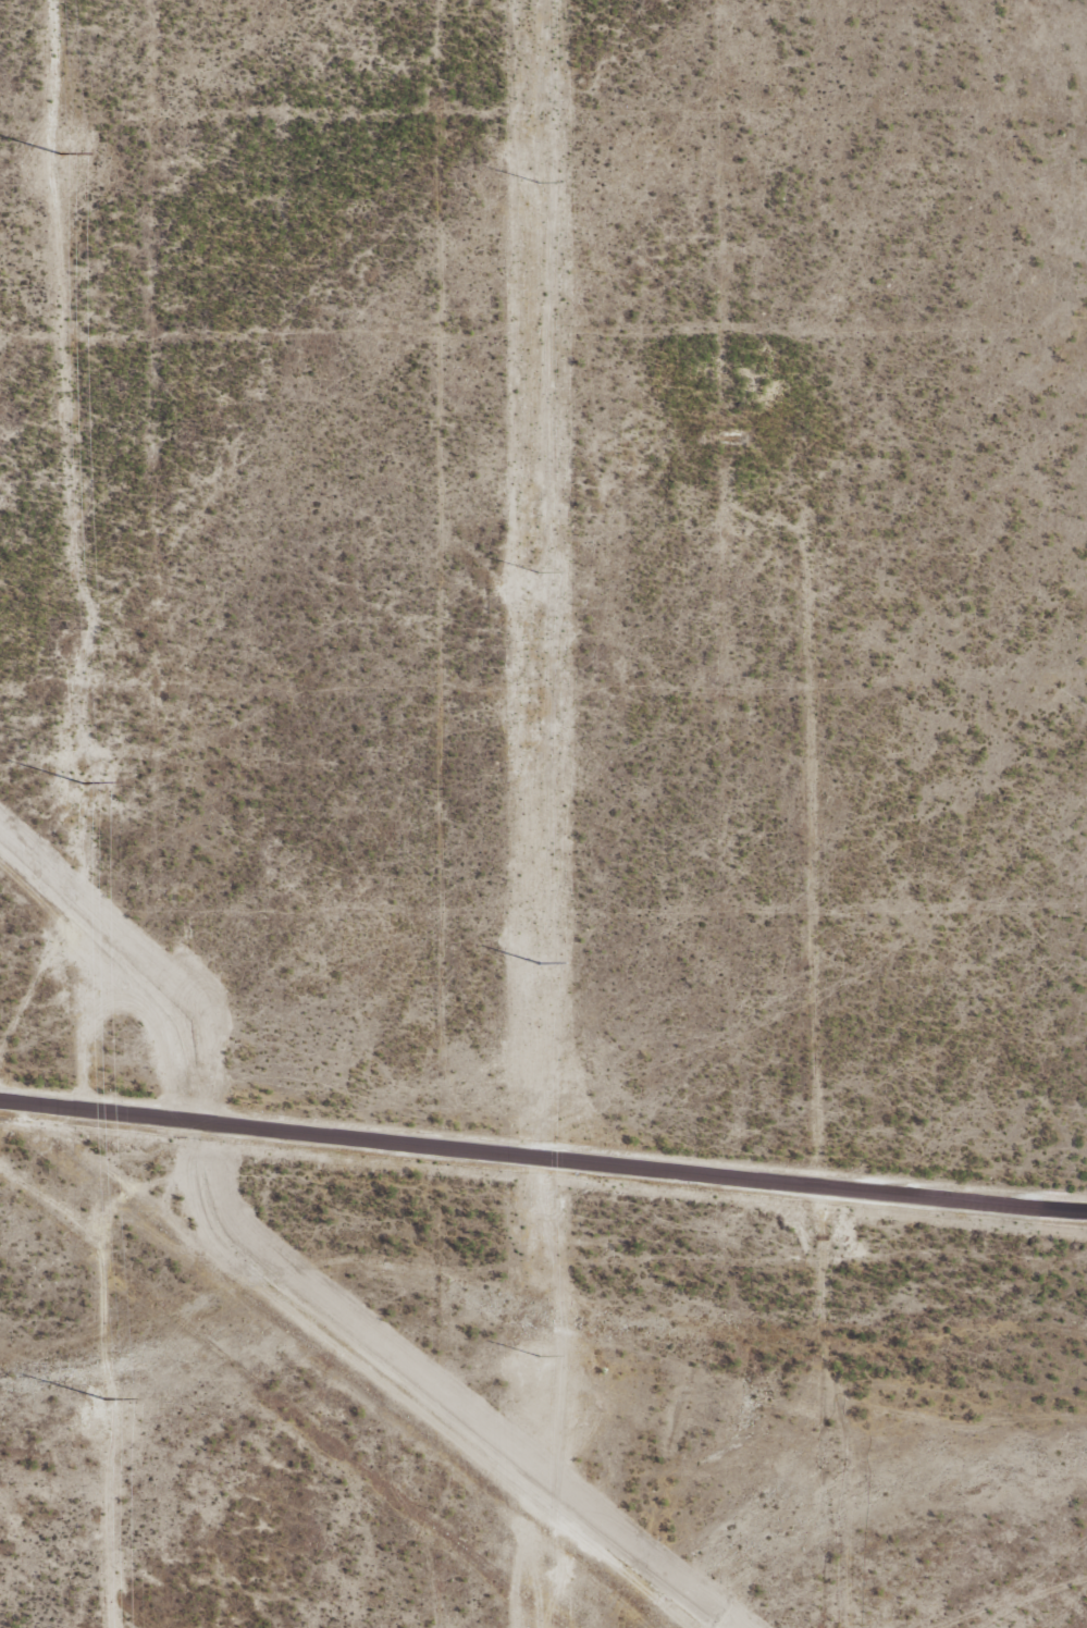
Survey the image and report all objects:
power tower: (539, 175)
power tower: (539, 566)
power tower: (539, 955)
road: (813, 1062)
road: (542, 1163)
power tower: (538, 1348)
road: (956, 1397)

